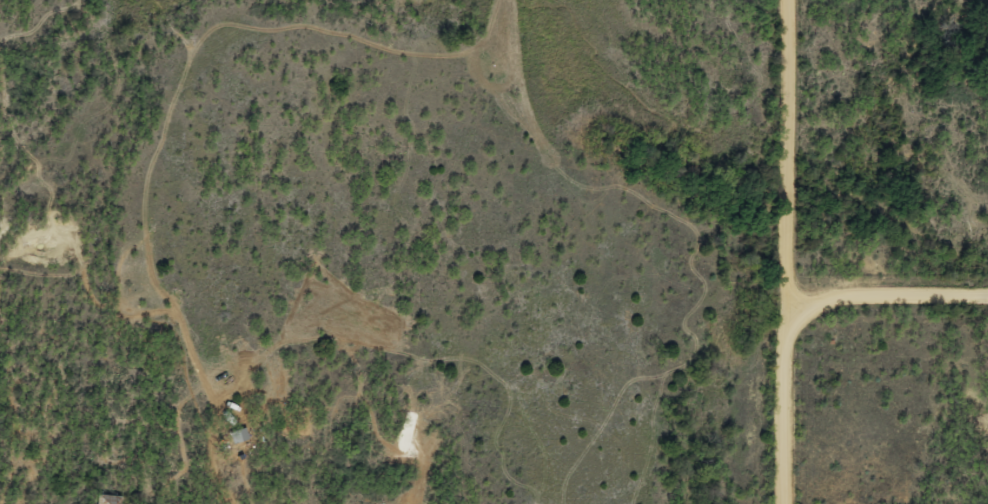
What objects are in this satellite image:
road: (788, 130)
road: (788, 282)
road: (887, 290)
road: (794, 404)
building: (103, 499)

